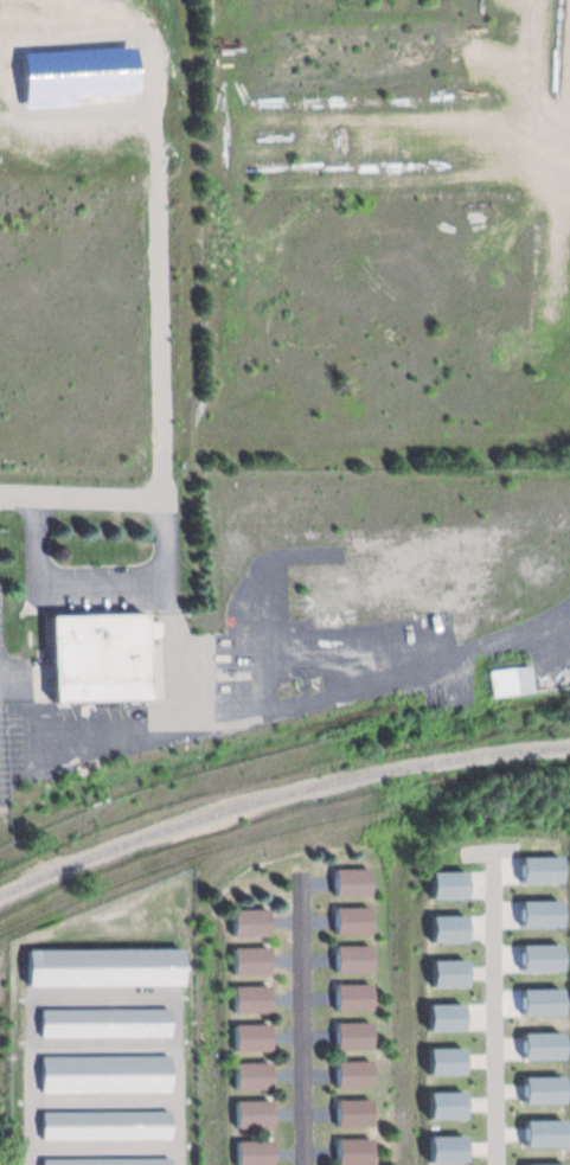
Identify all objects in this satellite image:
road: (92, 495)
road: (171, 613)
building: (94, 657)
building: (517, 678)
road: (305, 703)
railway: (277, 795)
building: (350, 882)
building: (350, 920)
building: (246, 922)
building: (352, 959)
building: (248, 960)
building: (352, 997)
building: (249, 998)
road: (504, 1007)
road: (308, 1018)
building: (352, 1035)
building: (250, 1037)
building: (352, 1074)
building: (250, 1075)
building: (353, 1112)
building: (251, 1114)
building: (354, 1150)
building: (251, 1152)
road: (36, 1159)

